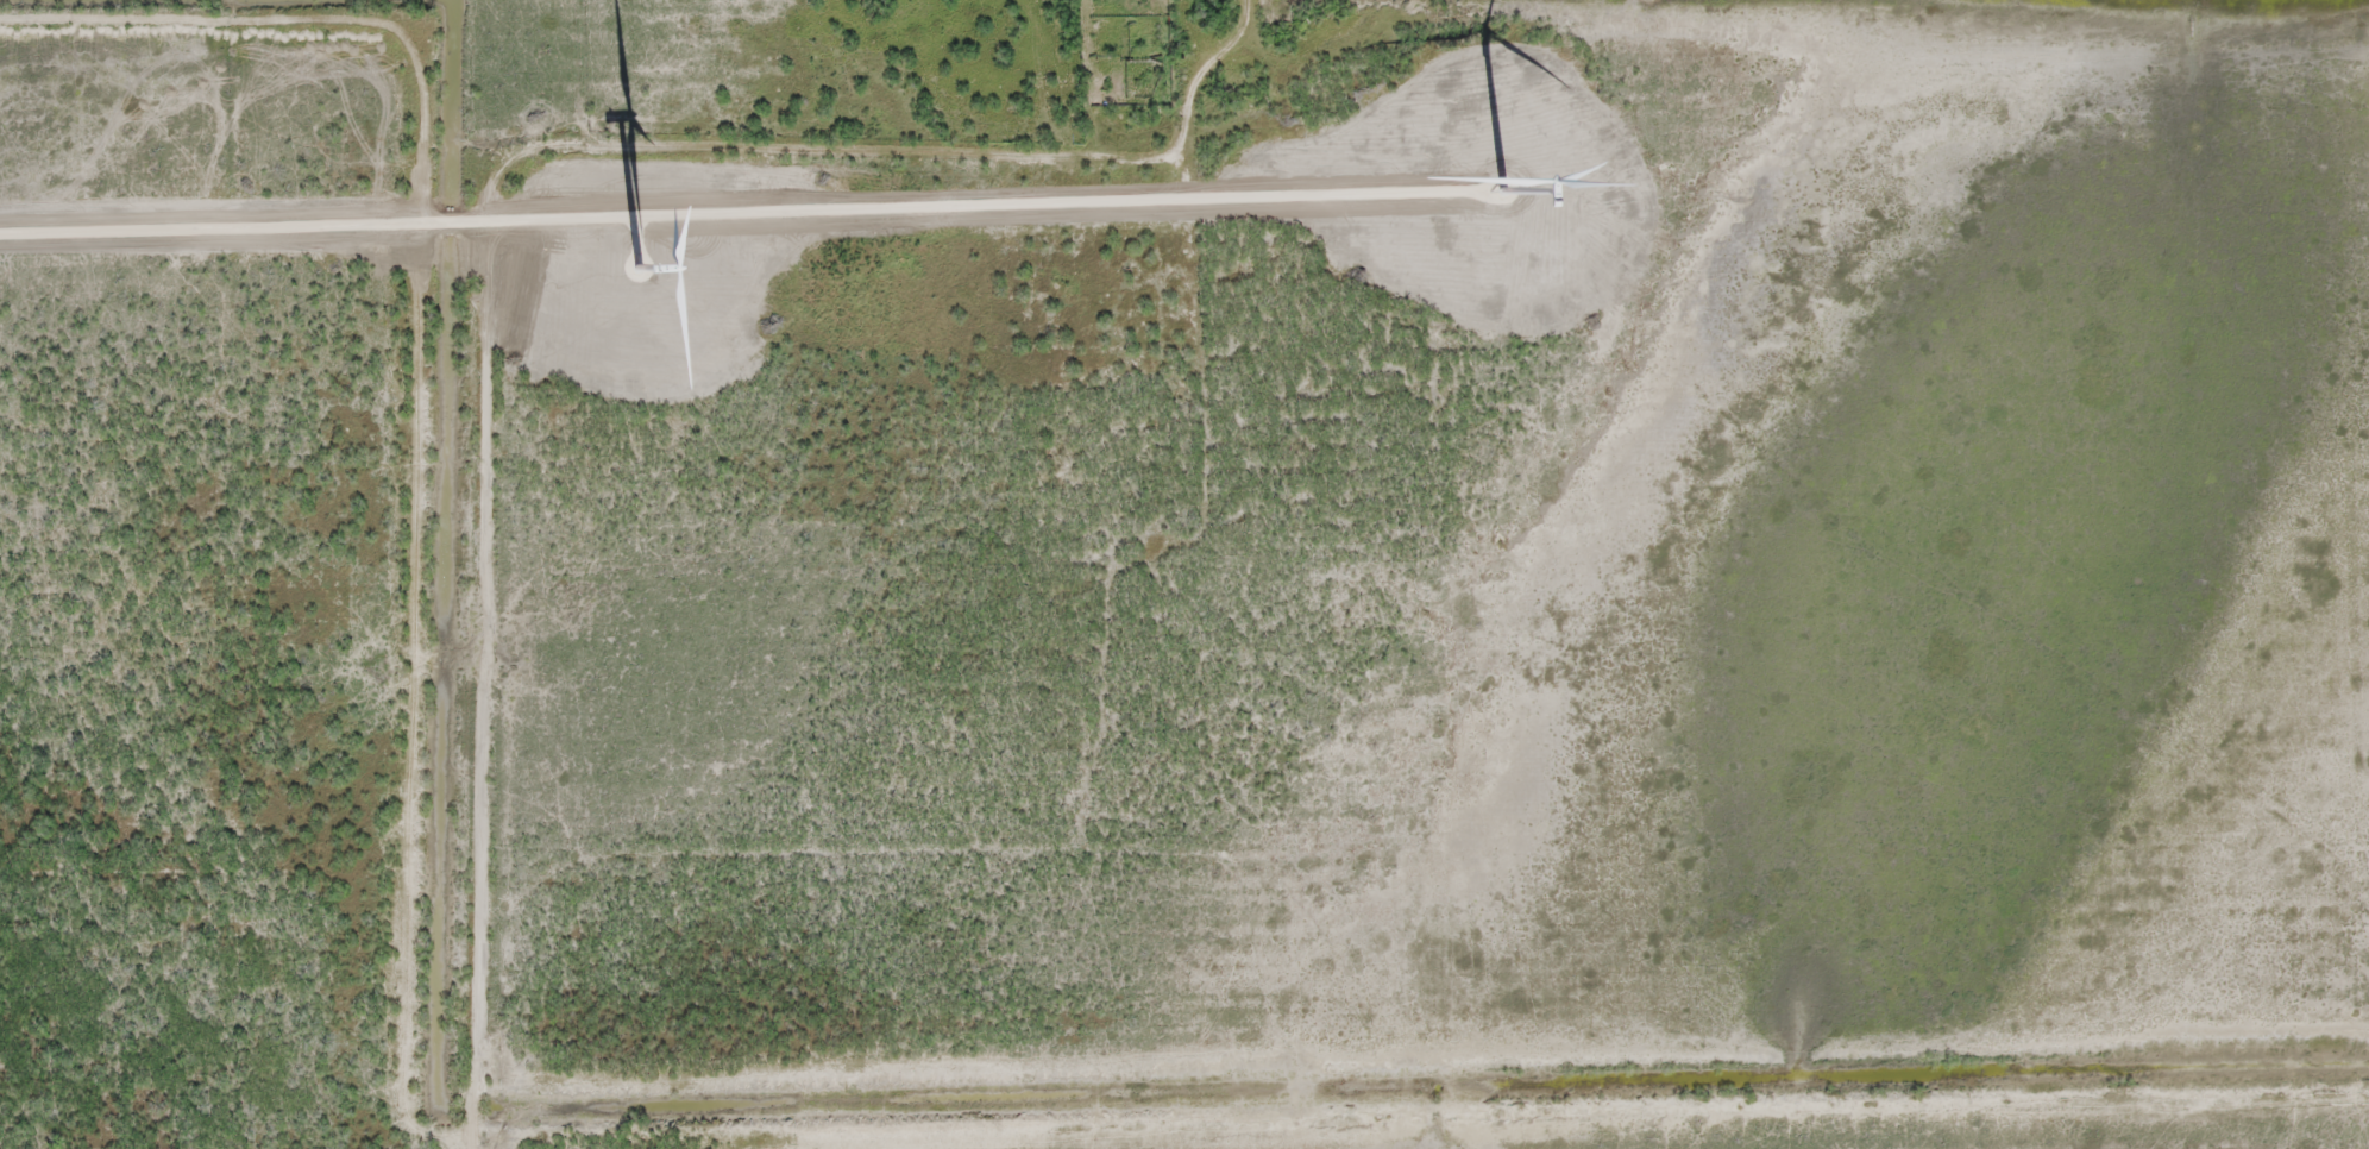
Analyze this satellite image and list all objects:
wind turbine: (1506, 190)
wind turbine: (641, 269)

